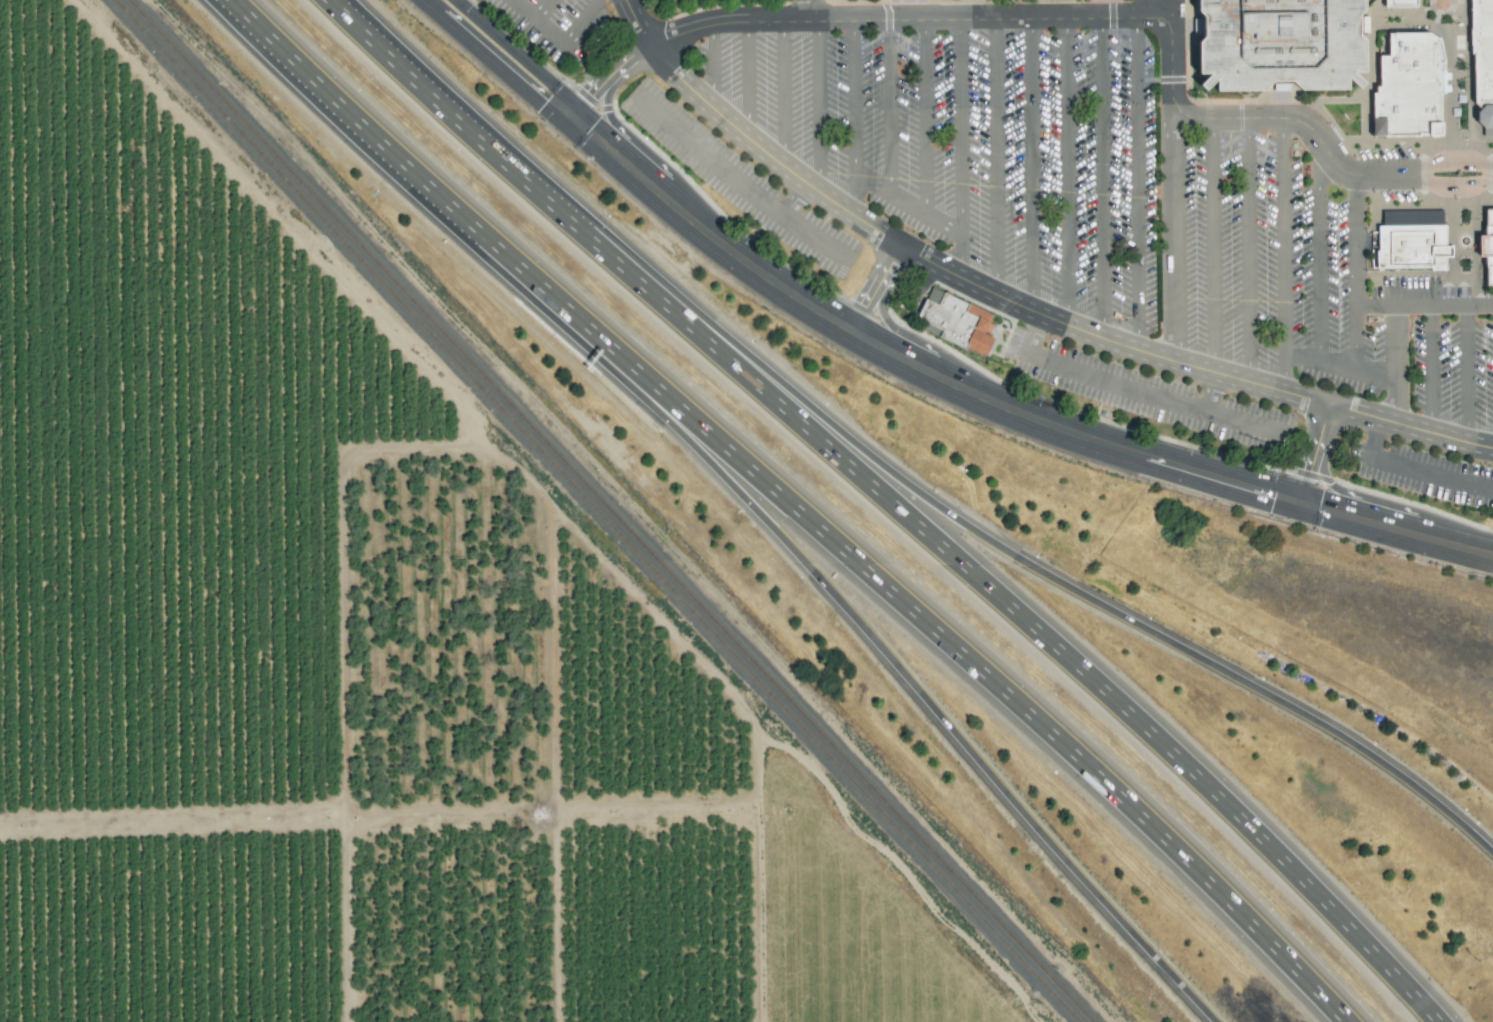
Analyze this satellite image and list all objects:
road: (434, 3)
building: (1396, 3)
road: (542, 8)
road: (808, 9)
road: (1119, 18)
road: (541, 22)
road: (585, 22)
road: (636, 22)
building: (1270, 44)
building: (1480, 63)
road: (496, 64)
road: (711, 64)
road: (747, 78)
road: (608, 84)
building: (1404, 89)
road: (782, 90)
road: (817, 103)
road: (889, 107)
road: (924, 116)
road: (853, 117)
road: (960, 148)
road: (996, 157)
road: (1031, 163)
road: (1065, 171)
road: (1100, 177)
road: (735, 179)
road: (1136, 184)
road: (797, 199)
road: (907, 205)
road: (563, 226)
road: (481, 227)
road: (1455, 227)
road: (1172, 235)
road: (1213, 244)
road: (1249, 249)
road: (1318, 250)
building: (1411, 250)
building: (1487, 251)
road: (1283, 254)
road: (1355, 271)
road: (870, 292)
road: (1423, 305)
road: (1038, 311)
building: (957, 321)
road: (1030, 339)
road: (1396, 364)
road: (1339, 365)
road: (1430, 369)
road: (903, 374)
road: (1466, 374)
road: (1214, 392)
road: (1165, 397)
road: (1374, 439)
road: (1311, 452)
road: (1431, 474)
railway: (576, 511)
railway: (584, 511)
road: (1395, 526)
road: (1159, 647)
road: (1131, 726)
road: (1045, 730)
road: (974, 737)

